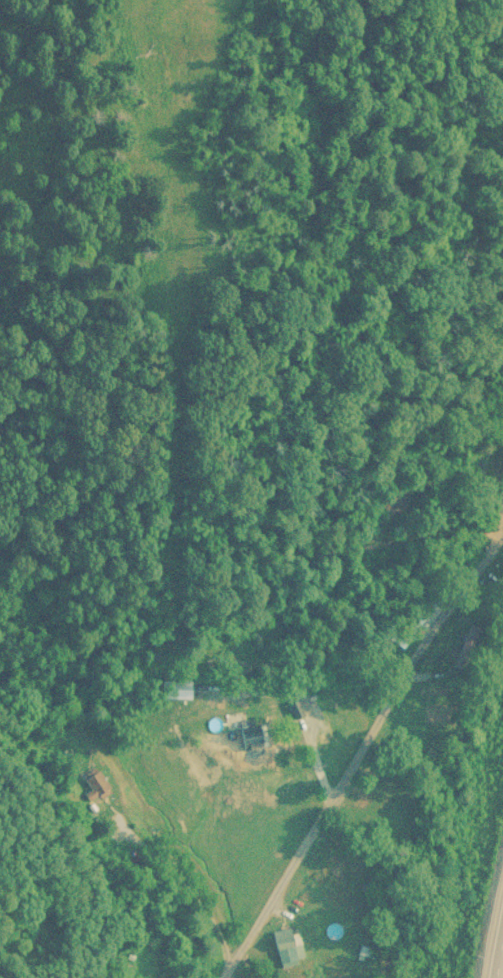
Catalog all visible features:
building: (391, 499)
building: (405, 626)
building: (382, 649)
building: (173, 688)
building: (292, 706)
road: (359, 756)
building: (94, 781)
building: (285, 946)
road: (498, 946)

